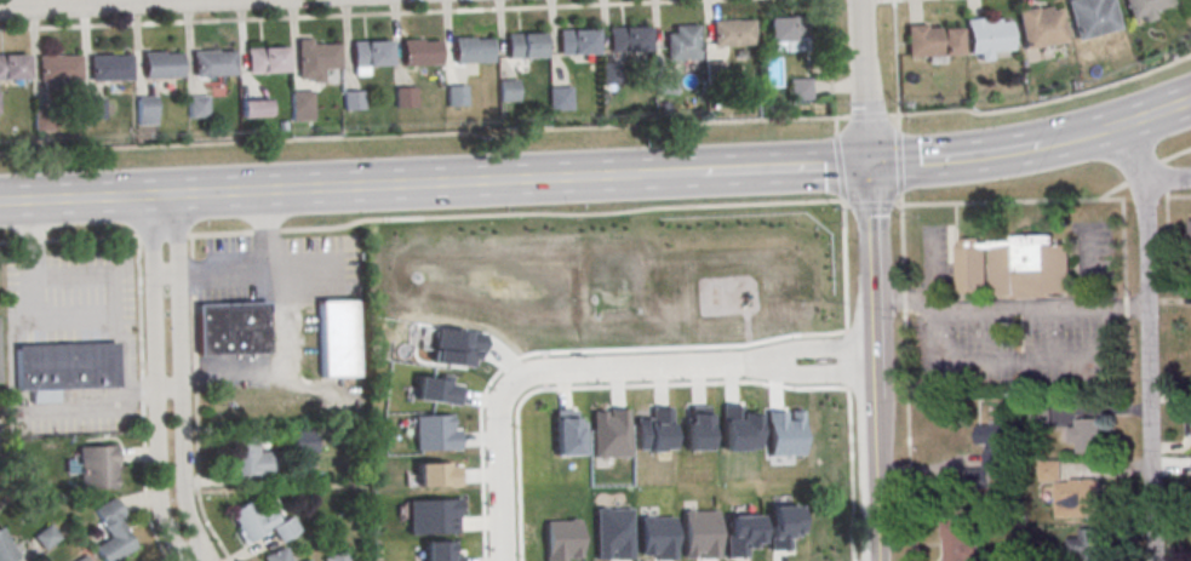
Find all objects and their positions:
road: (901, 0)
road: (118, 1)
road: (882, 1)
road: (99, 4)
building: (1144, 7)
road: (370, 15)
building: (1092, 18)
building: (1040, 29)
building: (788, 32)
building: (732, 35)
building: (987, 38)
building: (933, 41)
building: (628, 42)
building: (577, 45)
building: (682, 46)
building: (525, 48)
building: (471, 53)
building: (370, 56)
building: (419, 56)
building: (314, 62)
building: (264, 63)
building: (212, 67)
building: (160, 68)
building: (12, 70)
building: (109, 70)
building: (57, 73)
building: (611, 75)
building: (714, 75)
road: (863, 82)
building: (664, 86)
building: (800, 92)
building: (506, 93)
building: (456, 99)
building: (405, 101)
building: (560, 101)
building: (353, 103)
building: (300, 104)
building: (254, 107)
building: (196, 109)
building: (92, 111)
building: (144, 113)
road: (1153, 113)
building: (42, 122)
road: (448, 133)
road: (1082, 136)
road: (1130, 151)
road: (957, 159)
road: (1176, 161)
road: (781, 168)
road: (668, 173)
road: (1144, 177)
road: (1167, 177)
road: (400, 184)
road: (899, 185)
road: (80, 198)
road: (563, 214)
road: (264, 229)
building: (1190, 229)
road: (844, 248)
building: (1013, 267)
road: (166, 270)
parking lot: (277, 271)
road: (1008, 310)
road: (74, 316)
road: (288, 320)
building: (231, 333)
building: (336, 343)
road: (825, 343)
road: (872, 362)
road: (981, 363)
road: (826, 366)
road: (551, 367)
road: (1147, 368)
building: (67, 370)
road: (179, 378)
road: (159, 383)
road: (170, 388)
road: (143, 400)
road: (195, 401)
building: (1040, 420)
building: (1088, 439)
building: (304, 442)
building: (990, 457)
building: (251, 458)
building: (97, 465)
building: (1049, 473)
building: (1077, 500)
building: (262, 522)
building: (113, 534)
building: (46, 536)
building: (958, 542)
building: (1090, 545)
building: (6, 549)
road: (178, 550)
building: (277, 555)
building: (336, 556)
building: (84, 559)
building: (308, 560)

